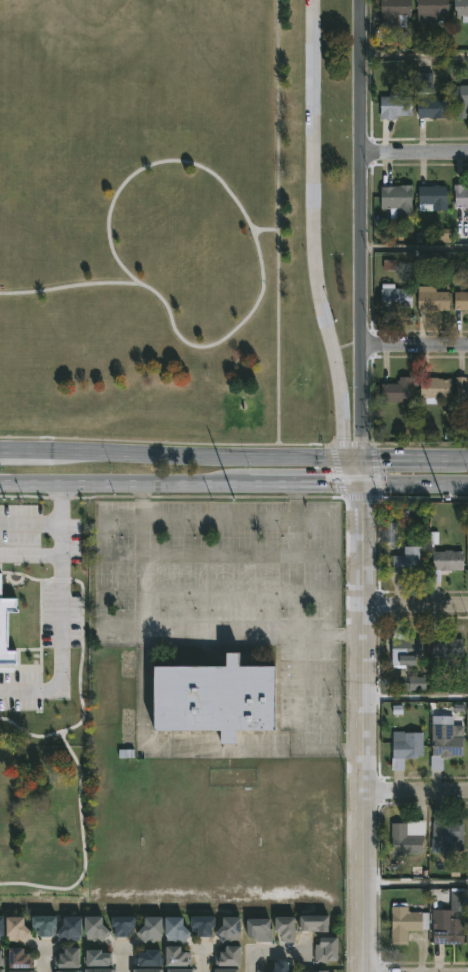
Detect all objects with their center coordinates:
building: (433, 9)
building: (461, 9)
building: (391, 12)
park: (97, 20)
road: (414, 61)
building: (460, 100)
building: (393, 105)
building: (431, 108)
road: (414, 153)
building: (460, 195)
building: (431, 197)
building: (395, 199)
road: (246, 218)
road: (277, 222)
road: (360, 228)
road: (265, 229)
road: (312, 244)
road: (414, 251)
road: (65, 288)
building: (393, 297)
building: (431, 299)
building: (459, 301)
road: (414, 346)
building: (434, 389)
building: (395, 391)
building: (461, 392)
road: (164, 442)
road: (349, 444)
road: (179, 454)
traffic signals: (343, 457)
traffic signals: (360, 457)
road: (414, 457)
road: (359, 469)
road: (373, 469)
road: (336, 470)
road: (179, 482)
traffic signals: (358, 482)
road: (412, 483)
road: (360, 496)
road: (61, 501)
building: (390, 533)
building: (45, 540)
road: (296, 557)
building: (405, 558)
building: (446, 559)
road: (412, 603)
road: (67, 605)
road: (177, 630)
building: (402, 647)
building: (446, 647)
building: (225, 697)
road: (413, 699)
road: (296, 720)
road: (358, 727)
building: (443, 741)
building: (404, 747)
road: (413, 790)
building: (446, 831)
building: (406, 837)
road: (413, 888)
building: (319, 922)
building: (406, 922)
building: (46, 925)
building: (127, 925)
building: (207, 925)
building: (3, 927)
building: (99, 928)
building: (21, 929)
building: (74, 929)
building: (155, 929)
building: (179, 929)
building: (233, 929)
building: (290, 929)
building: (264, 930)
building: (447, 931)
road: (273, 947)
building: (330, 950)
building: (181, 956)
building: (233, 956)
building: (2, 957)
road: (45, 957)
building: (24, 958)
building: (71, 958)
building: (100, 958)
building: (152, 958)
road: (123, 959)
road: (205, 961)
building: (287, 966)
building: (2, 970)
building: (101, 970)
building: (152, 970)
building: (182, 970)
building: (228, 970)
building: (21, 971)
building: (69, 971)
building: (328, 971)

